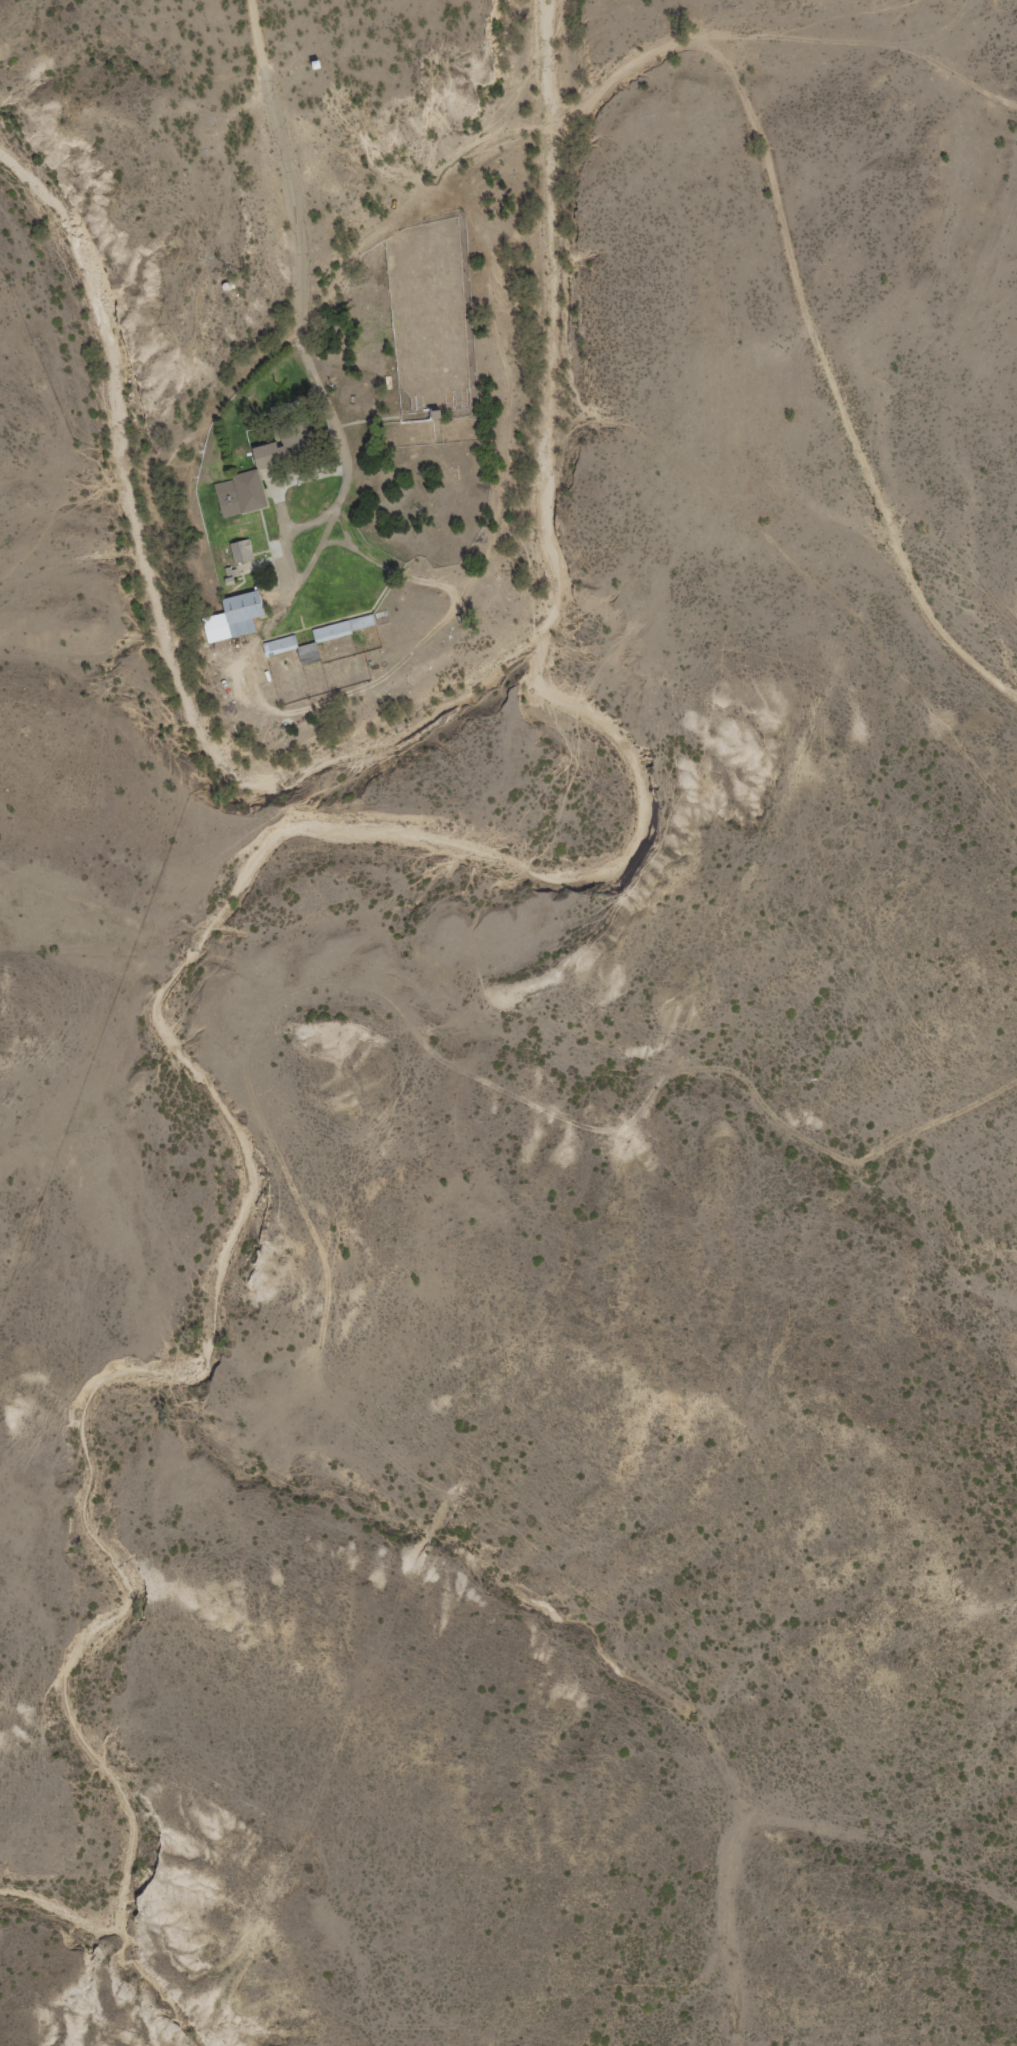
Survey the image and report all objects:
road: (280, 134)
building: (243, 484)
building: (239, 551)
building: (229, 618)
building: (315, 639)
river: (386, 750)

